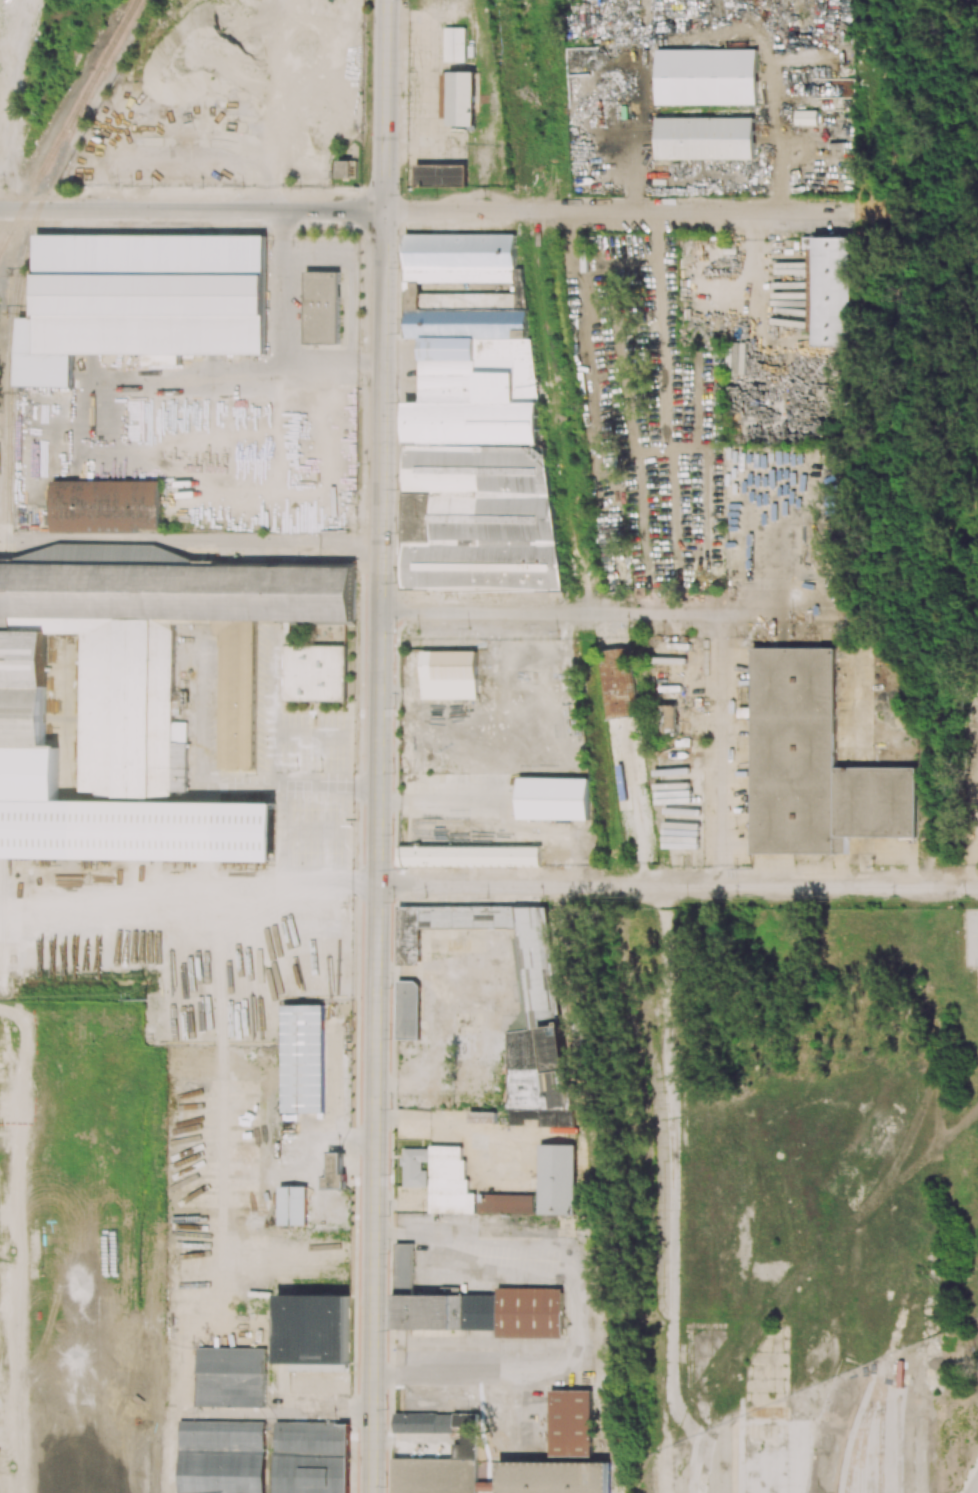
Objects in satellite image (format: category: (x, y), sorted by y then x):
road: (695, 34)
building: (454, 42)
railway: (111, 44)
building: (708, 75)
road: (10, 84)
building: (459, 96)
building: (806, 117)
building: (707, 137)
railway: (43, 168)
building: (347, 169)
building: (440, 174)
road: (706, 174)
road: (10, 180)
road: (1, 202)
road: (425, 210)
building: (829, 289)
building: (140, 300)
building: (322, 307)
railway: (12, 317)
road: (272, 339)
building: (473, 424)
building: (105, 506)
road: (198, 539)
road: (610, 613)
building: (527, 652)
building: (314, 673)
building: (449, 675)
building: (617, 683)
building: (140, 697)
building: (667, 716)
road: (721, 731)
road: (271, 732)
road: (378, 746)
road: (199, 747)
building: (814, 764)
building: (553, 798)
road: (285, 832)
building: (469, 856)
power tower: (405, 865)
power tower: (755, 866)
road: (719, 867)
road: (677, 887)
road: (144, 914)
building: (512, 991)
power tower: (150, 995)
building: (408, 1009)
building: (302, 1058)
building: (545, 1118)
building: (415, 1167)
building: (334, 1172)
building: (557, 1179)
building: (449, 1182)
building: (505, 1203)
building: (292, 1205)
road: (396, 1233)
road: (508, 1241)
road: (19, 1244)
road: (488, 1272)
building: (476, 1307)
building: (312, 1332)
road: (513, 1369)
building: (230, 1376)
building: (423, 1422)
building: (571, 1424)
building: (221, 1457)
building: (310, 1457)
building: (442, 1466)
building: (553, 1477)

